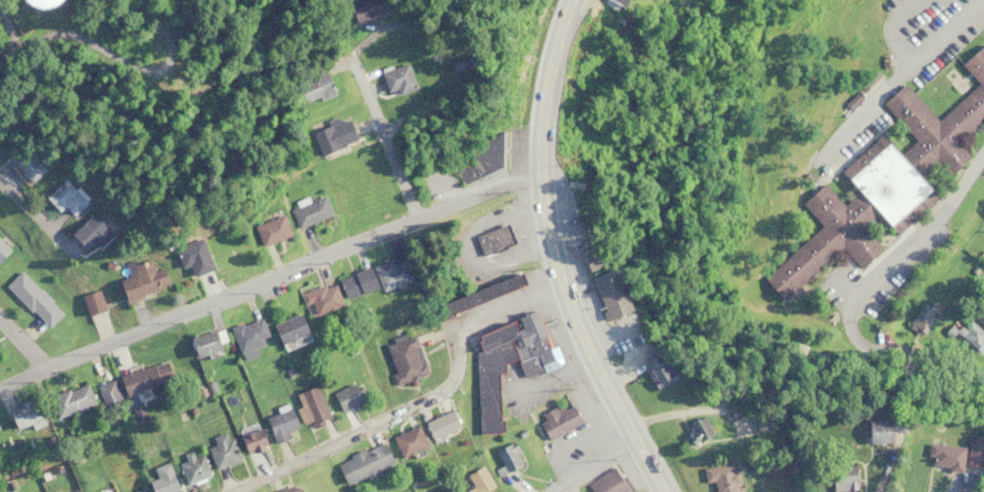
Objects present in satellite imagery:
building: (28, 2)
building: (362, 10)
building: (621, 13)
road: (892, 29)
road: (119, 71)
parking lot: (899, 71)
road: (897, 76)
building: (393, 78)
building: (868, 81)
building: (313, 88)
building: (849, 100)
building: (331, 135)
road: (383, 140)
building: (473, 148)
building: (27, 164)
building: (886, 178)
road: (544, 180)
building: (63, 198)
road: (32, 212)
building: (307, 212)
road: (922, 222)
building: (269, 230)
building: (492, 239)
building: (2, 250)
building: (982, 254)
building: (190, 257)
parking lot: (885, 264)
road: (297, 269)
building: (974, 269)
building: (390, 272)
building: (599, 278)
building: (138, 281)
building: (355, 282)
building: (476, 294)
building: (319, 298)
building: (31, 299)
building: (90, 302)
building: (958, 312)
building: (979, 312)
building: (922, 318)
building: (287, 328)
building: (968, 332)
building: (245, 336)
building: (529, 340)
road: (24, 343)
building: (201, 343)
road: (893, 353)
building: (402, 359)
parking lot: (573, 359)
building: (655, 370)
building: (488, 376)
building: (144, 377)
road: (24, 380)
road: (543, 382)
building: (106, 392)
building: (343, 397)
building: (69, 400)
road: (433, 405)
building: (294, 413)
building: (23, 416)
building: (759, 420)
building: (557, 421)
building: (438, 425)
road: (625, 425)
building: (694, 428)
building: (873, 429)
building: (0, 433)
building: (250, 440)
building: (405, 441)
building: (219, 451)
building: (955, 455)
building: (507, 457)
building: (361, 462)
building: (790, 462)
road: (597, 466)
building: (190, 467)
building: (719, 476)
building: (840, 477)
building: (159, 479)
building: (605, 482)
building: (474, 483)
road: (950, 487)
building: (289, 489)
building: (136, 490)

